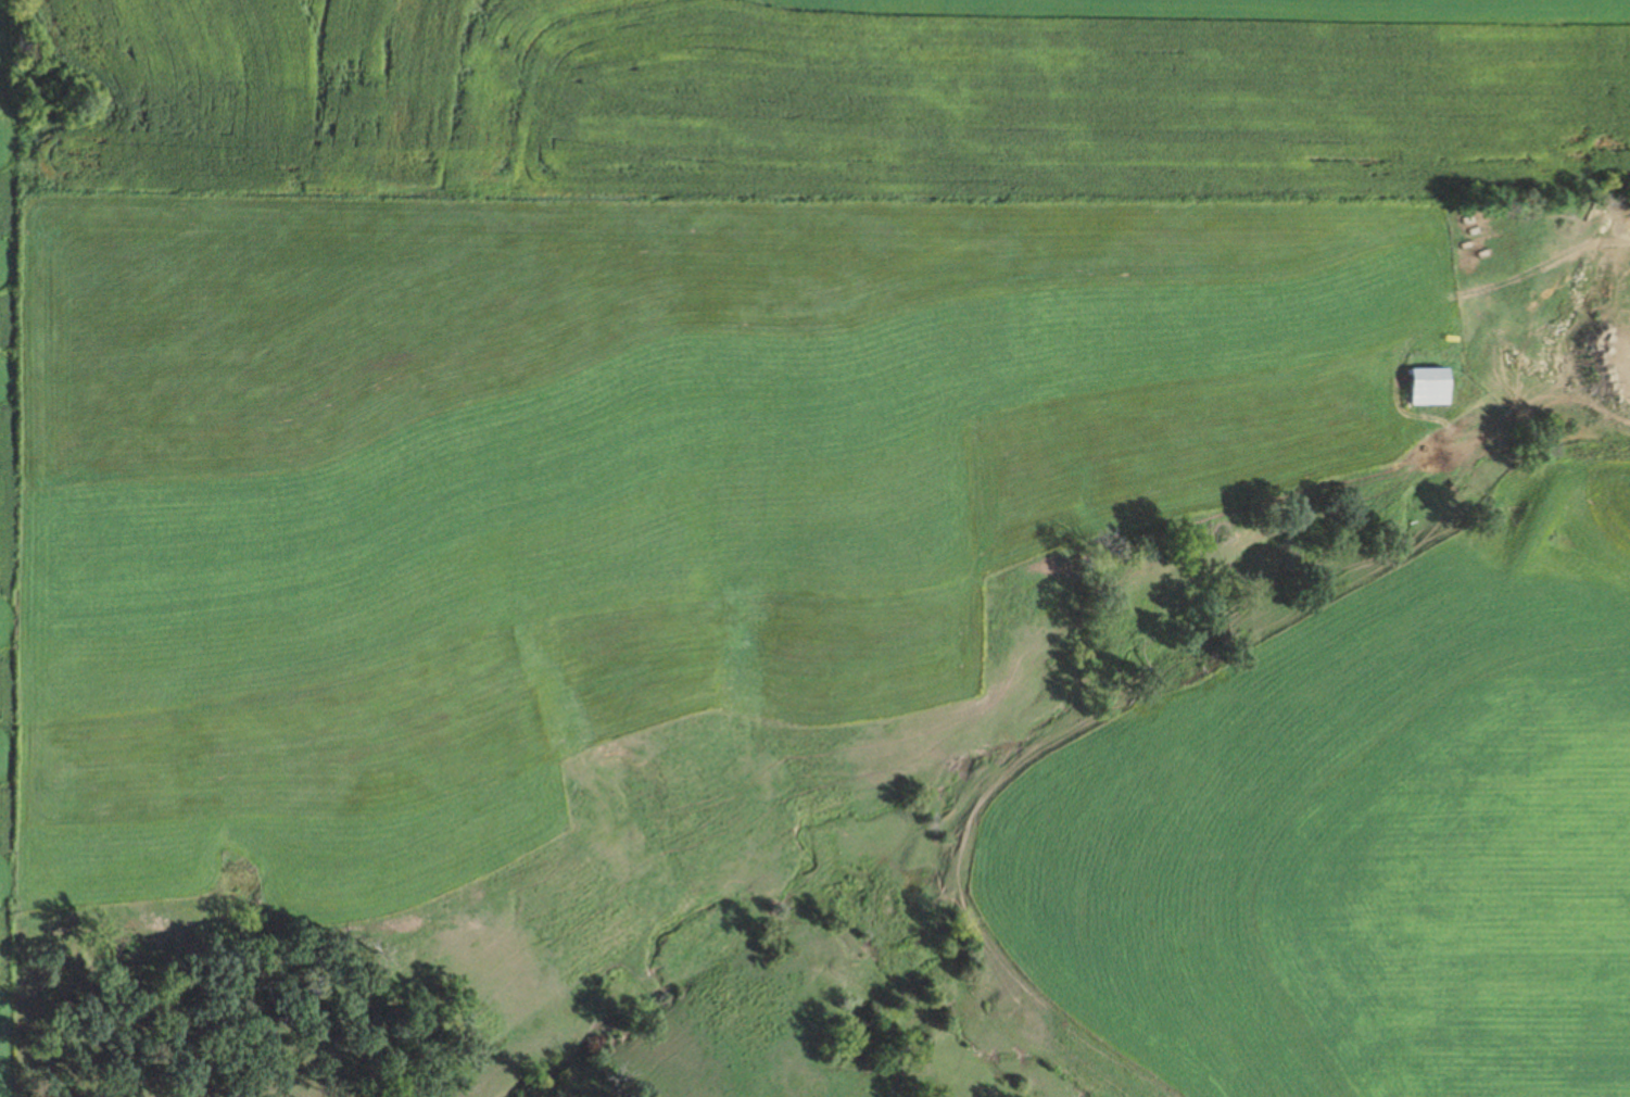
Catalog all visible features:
building: (1420, 387)

